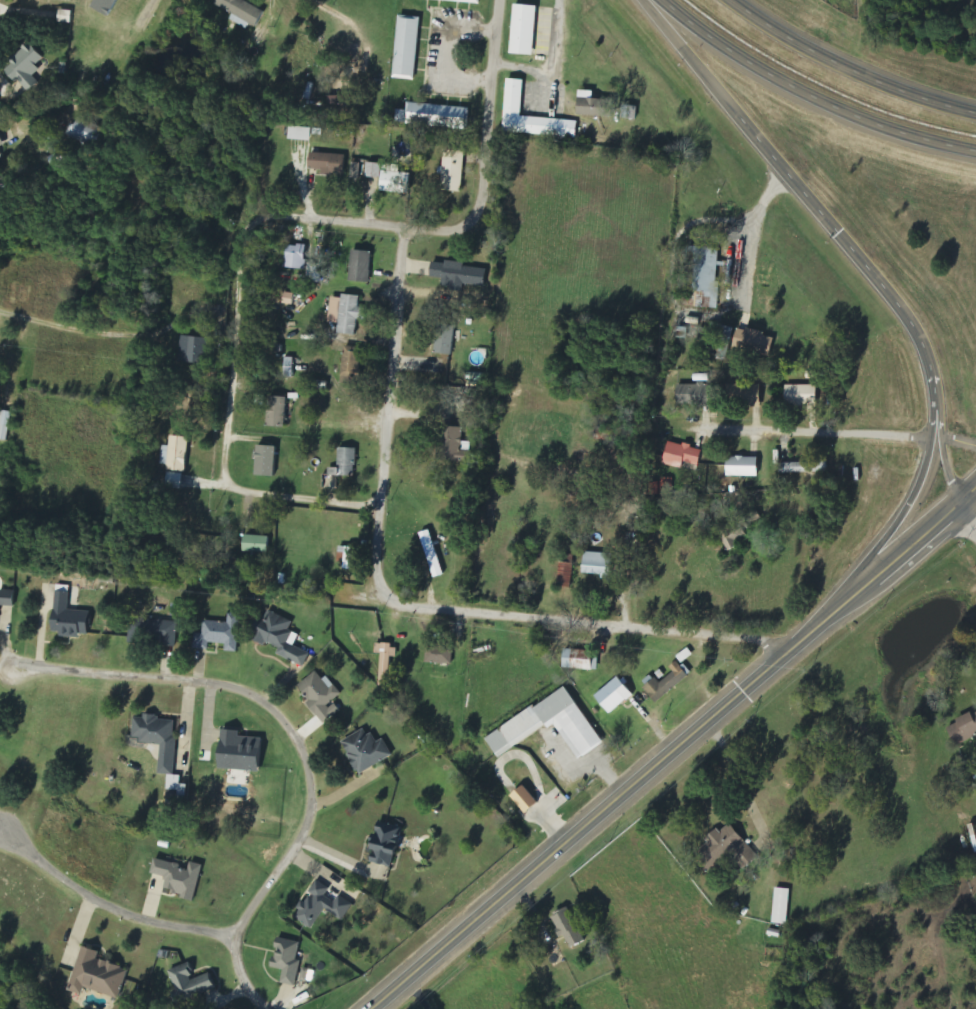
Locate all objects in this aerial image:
building: (469, 1)
building: (241, 12)
building: (527, 30)
building: (408, 47)
road: (556, 63)
building: (25, 67)
road: (845, 72)
building: (516, 99)
road: (805, 101)
road: (489, 106)
building: (594, 107)
building: (629, 112)
building: (432, 116)
road: (16, 124)
building: (83, 132)
building: (299, 134)
building: (1, 143)
building: (327, 164)
building: (453, 171)
building: (388, 179)
road: (366, 225)
road: (841, 234)
building: (294, 257)
building: (360, 266)
building: (705, 273)
building: (458, 275)
building: (288, 299)
building: (347, 314)
road: (96, 332)
building: (720, 335)
building: (444, 339)
building: (752, 342)
building: (192, 350)
road: (234, 353)
building: (742, 395)
building: (800, 395)
building: (693, 396)
building: (275, 412)
building: (4, 425)
road: (816, 434)
road: (955, 443)
building: (452, 444)
building: (175, 454)
building: (681, 456)
building: (265, 461)
building: (344, 463)
building: (742, 467)
building: (802, 468)
building: (173, 481)
road: (299, 497)
road: (898, 509)
road: (970, 518)
building: (732, 536)
building: (256, 544)
building: (432, 554)
road: (904, 556)
building: (347, 557)
building: (568, 558)
building: (597, 564)
building: (566, 575)
building: (6, 598)
road: (405, 601)
building: (68, 617)
building: (159, 632)
building: (220, 634)
building: (280, 638)
building: (439, 655)
building: (580, 660)
building: (386, 662)
building: (666, 683)
building: (613, 696)
building: (320, 697)
building: (521, 728)
building: (964, 729)
road: (293, 738)
building: (161, 747)
building: (365, 751)
building: (237, 752)
building: (523, 800)
road: (600, 813)
building: (383, 844)
building: (725, 850)
building: (178, 879)
building: (321, 906)
building: (781, 907)
road: (110, 908)
building: (568, 927)
building: (286, 961)
building: (96, 975)
building: (189, 983)

